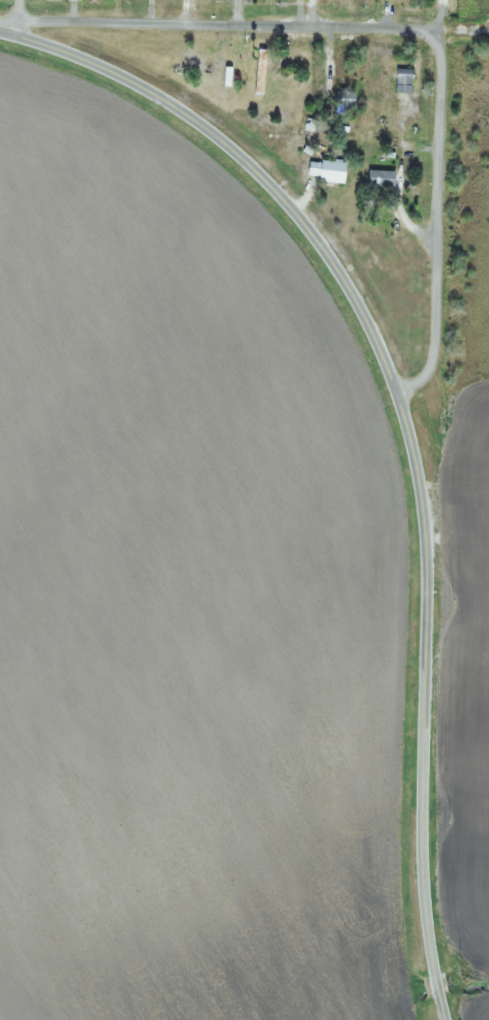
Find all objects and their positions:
road: (16, 9)
road: (216, 24)
building: (219, 60)
building: (283, 80)
building: (402, 80)
building: (328, 172)
building: (378, 178)
road: (433, 223)
road: (406, 427)

